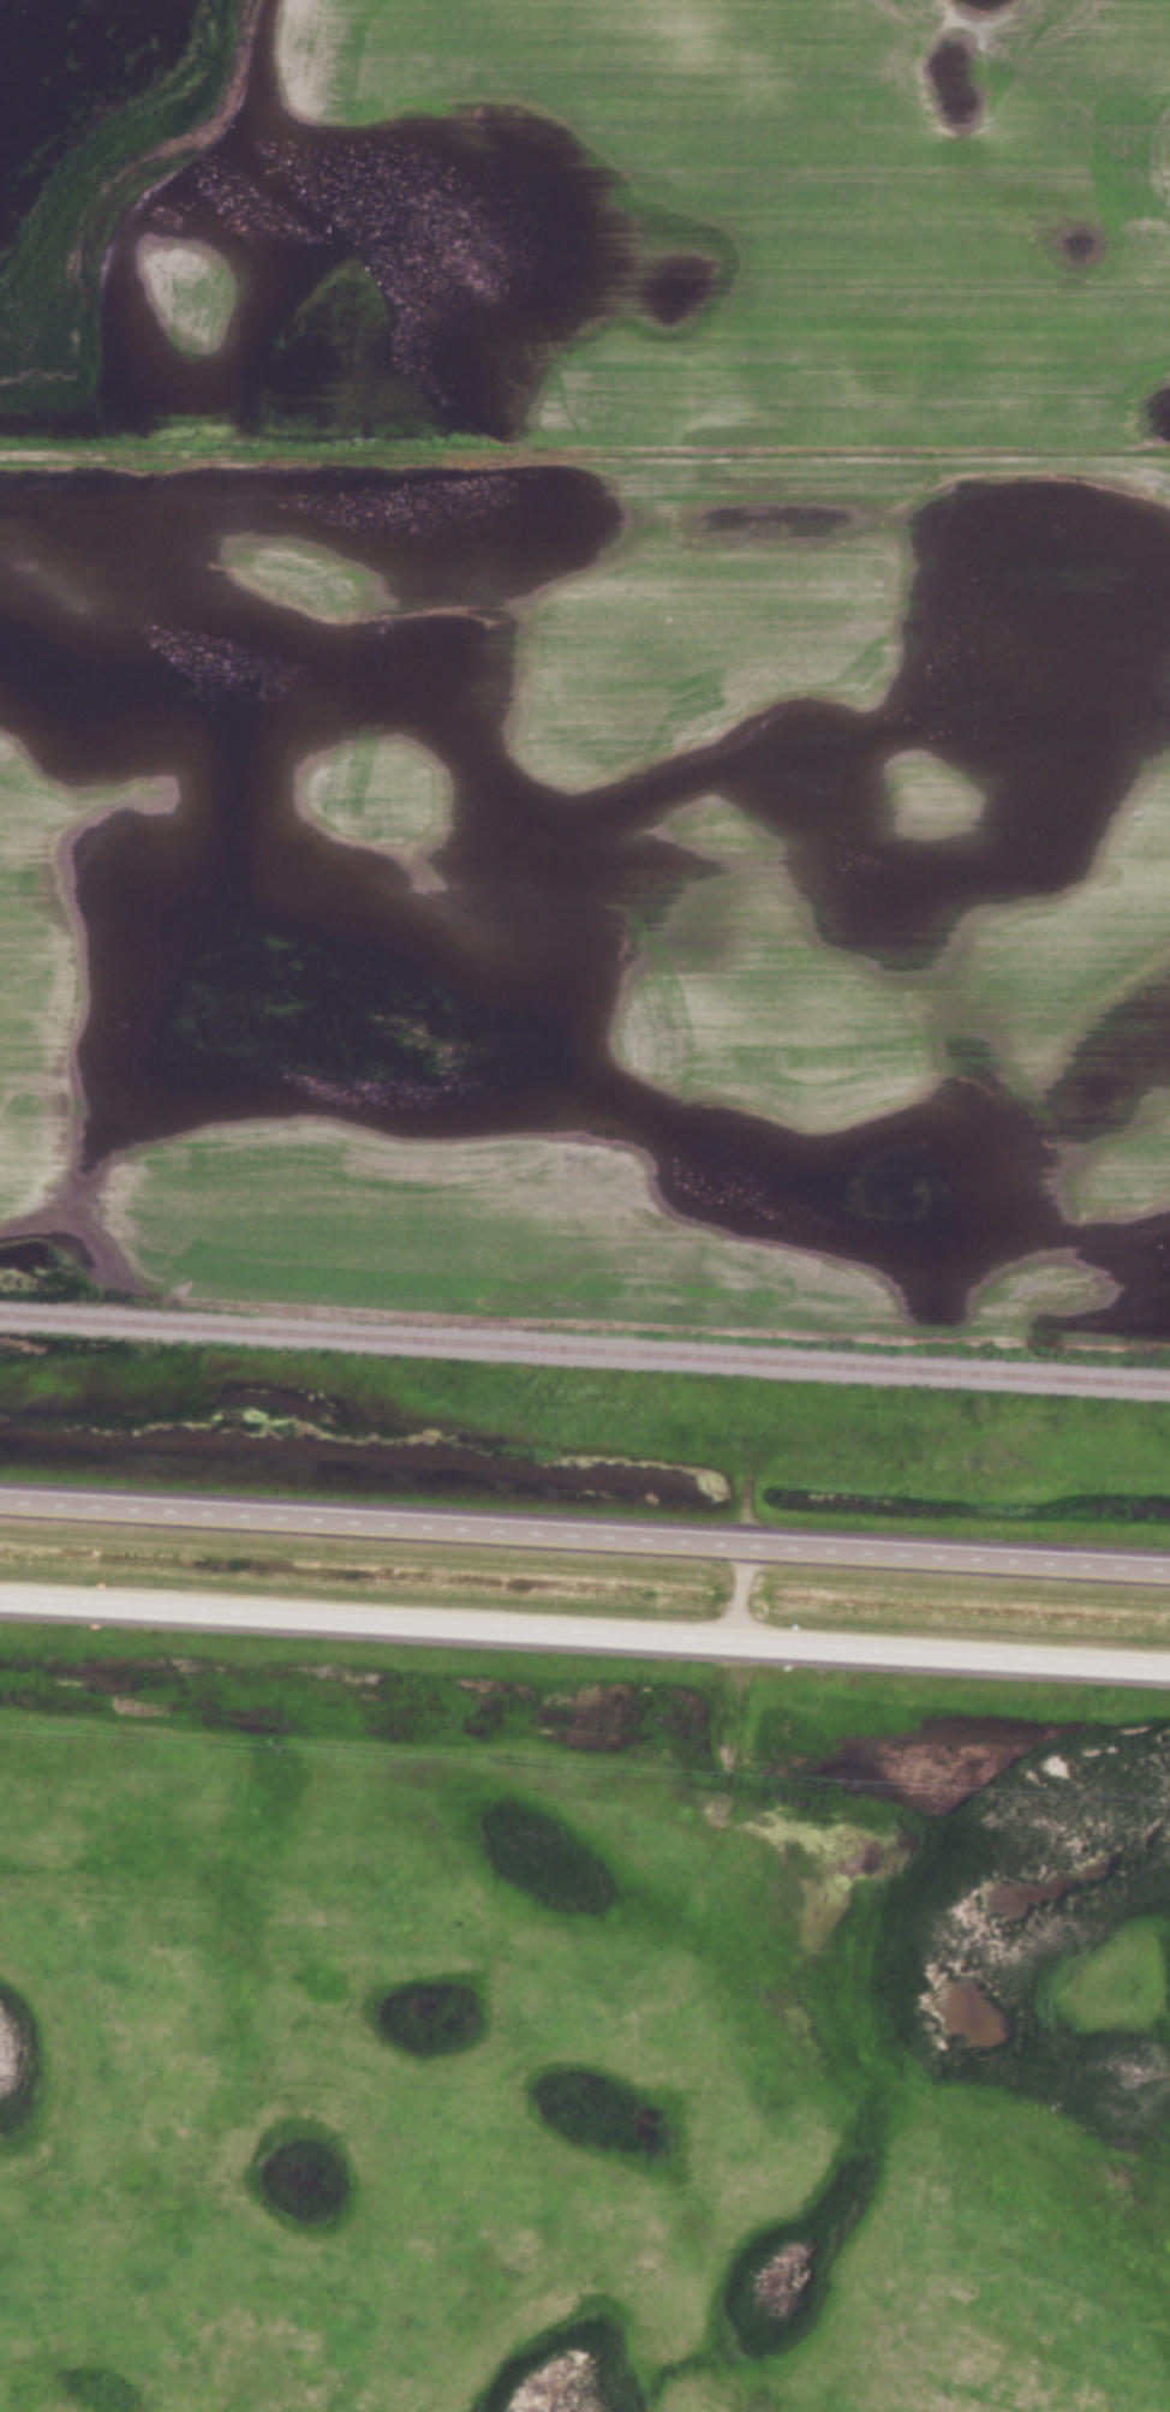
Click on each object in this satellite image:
road: (584, 452)
railway: (585, 1351)
road: (584, 1536)
road: (584, 1631)

